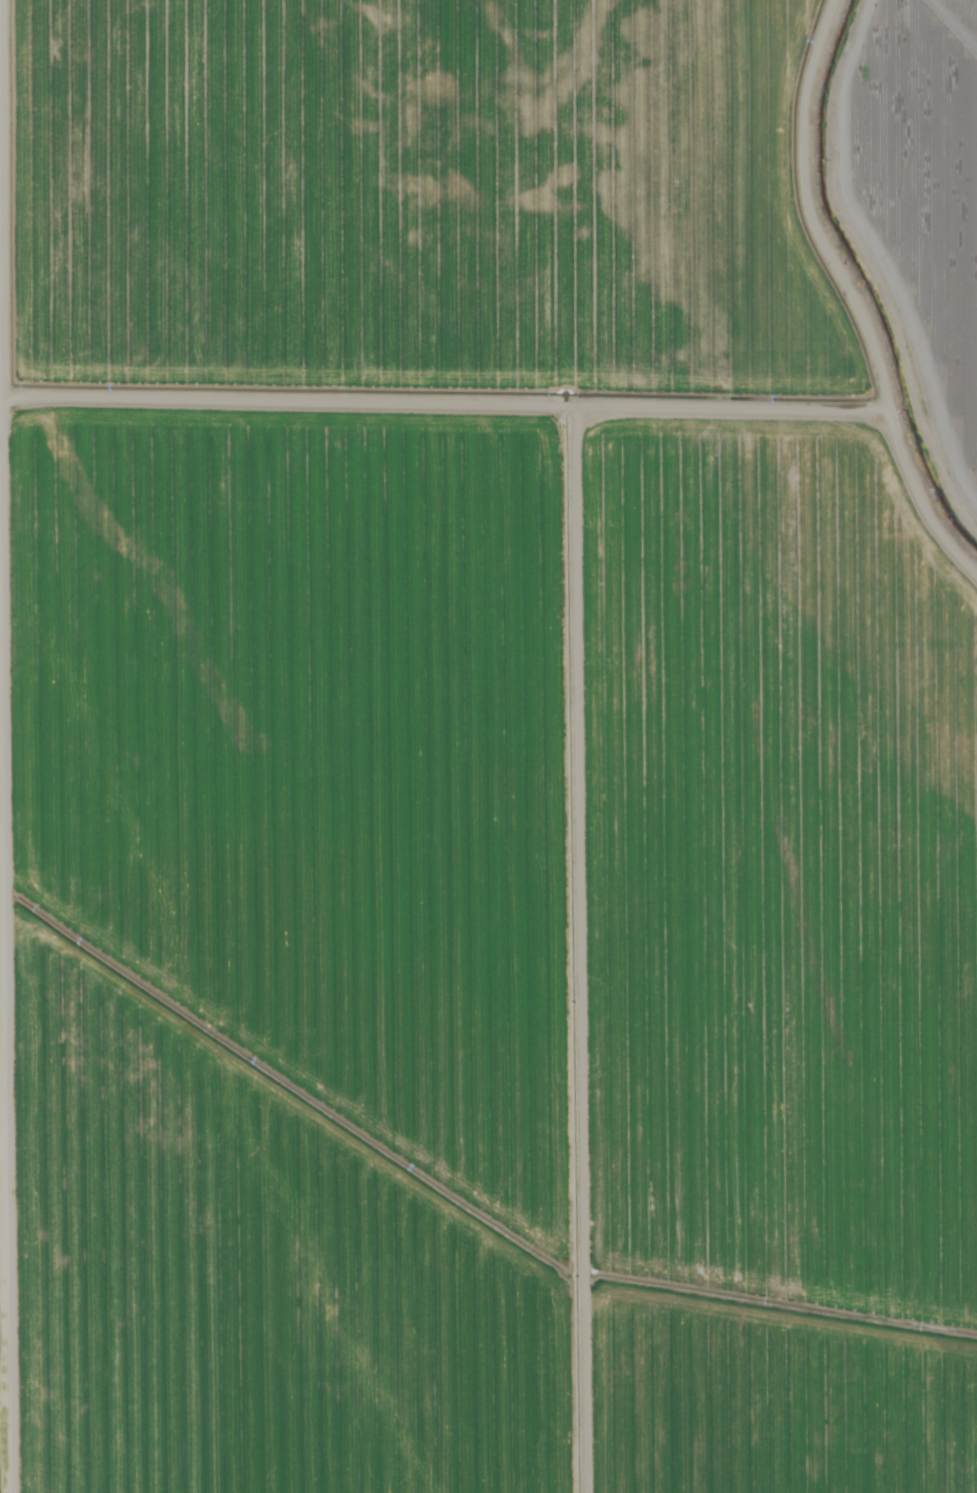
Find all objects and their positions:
crop: (935, 194)
road: (24, 746)
crop: (478, 774)

